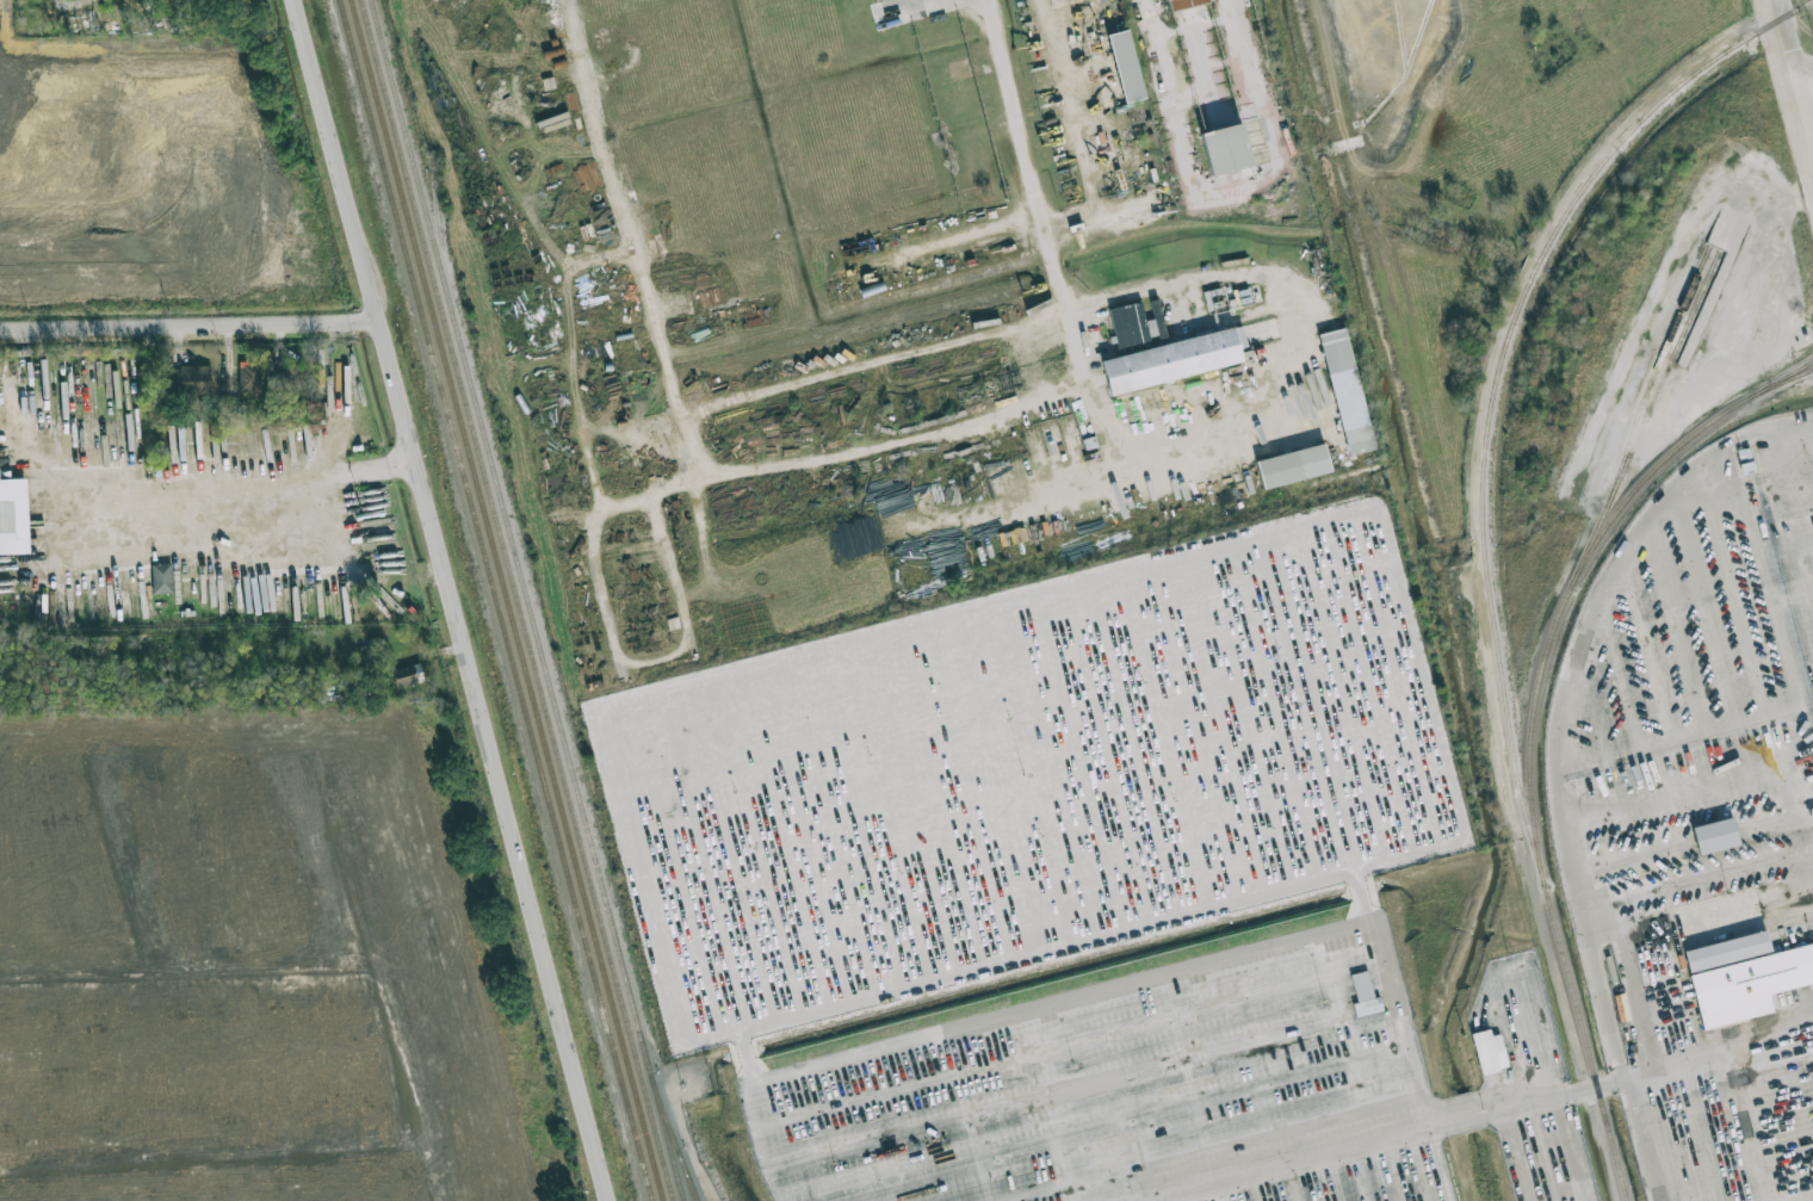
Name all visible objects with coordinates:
building: (1054, 1)
building: (1175, 2)
road: (1161, 60)
building: (1126, 66)
road: (1793, 76)
road: (1803, 80)
road: (1150, 129)
road: (1811, 134)
building: (1226, 148)
road: (984, 243)
road: (1670, 295)
road: (1072, 305)
road: (188, 323)
building: (1137, 327)
building: (1174, 360)
road: (887, 363)
railway: (1671, 366)
railway: (1498, 372)
building: (248, 376)
building: (190, 378)
railway: (1787, 379)
building: (1347, 390)
railway: (1759, 391)
railway: (1641, 406)
road: (699, 421)
road: (1788, 463)
building: (1293, 465)
road: (242, 499)
building: (13, 516)
railway: (515, 549)
building: (161, 577)
road: (452, 600)
railway: (495, 600)
railway: (505, 600)
railway: (516, 600)
railway: (1557, 620)
building: (404, 676)
building: (1715, 835)
road: (1516, 961)
road: (1599, 971)
building: (1744, 976)
building: (1363, 993)
road: (1021, 1009)
railway: (1584, 1034)
road: (1716, 1041)
building: (1489, 1052)
road: (1598, 1089)
road: (1360, 1092)
road: (1549, 1104)
road: (1745, 1120)
road: (687, 1140)
road: (1641, 1141)
road: (1599, 1146)
railway: (672, 1150)
railway: (677, 1150)
road: (1353, 1153)
road: (1510, 1158)
road: (1443, 1166)
railway: (693, 1190)

